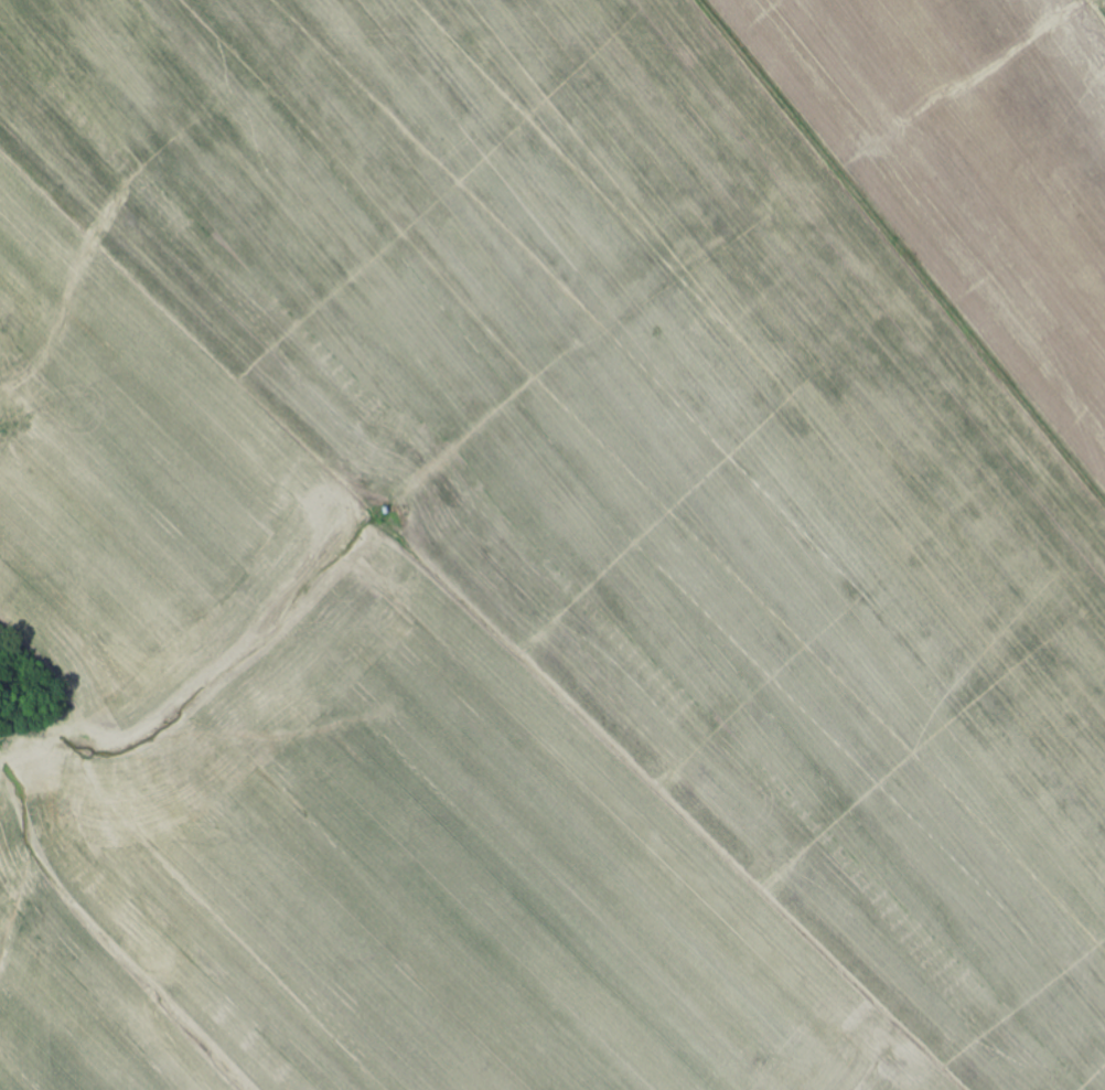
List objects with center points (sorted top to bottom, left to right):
road: (872, 380)

